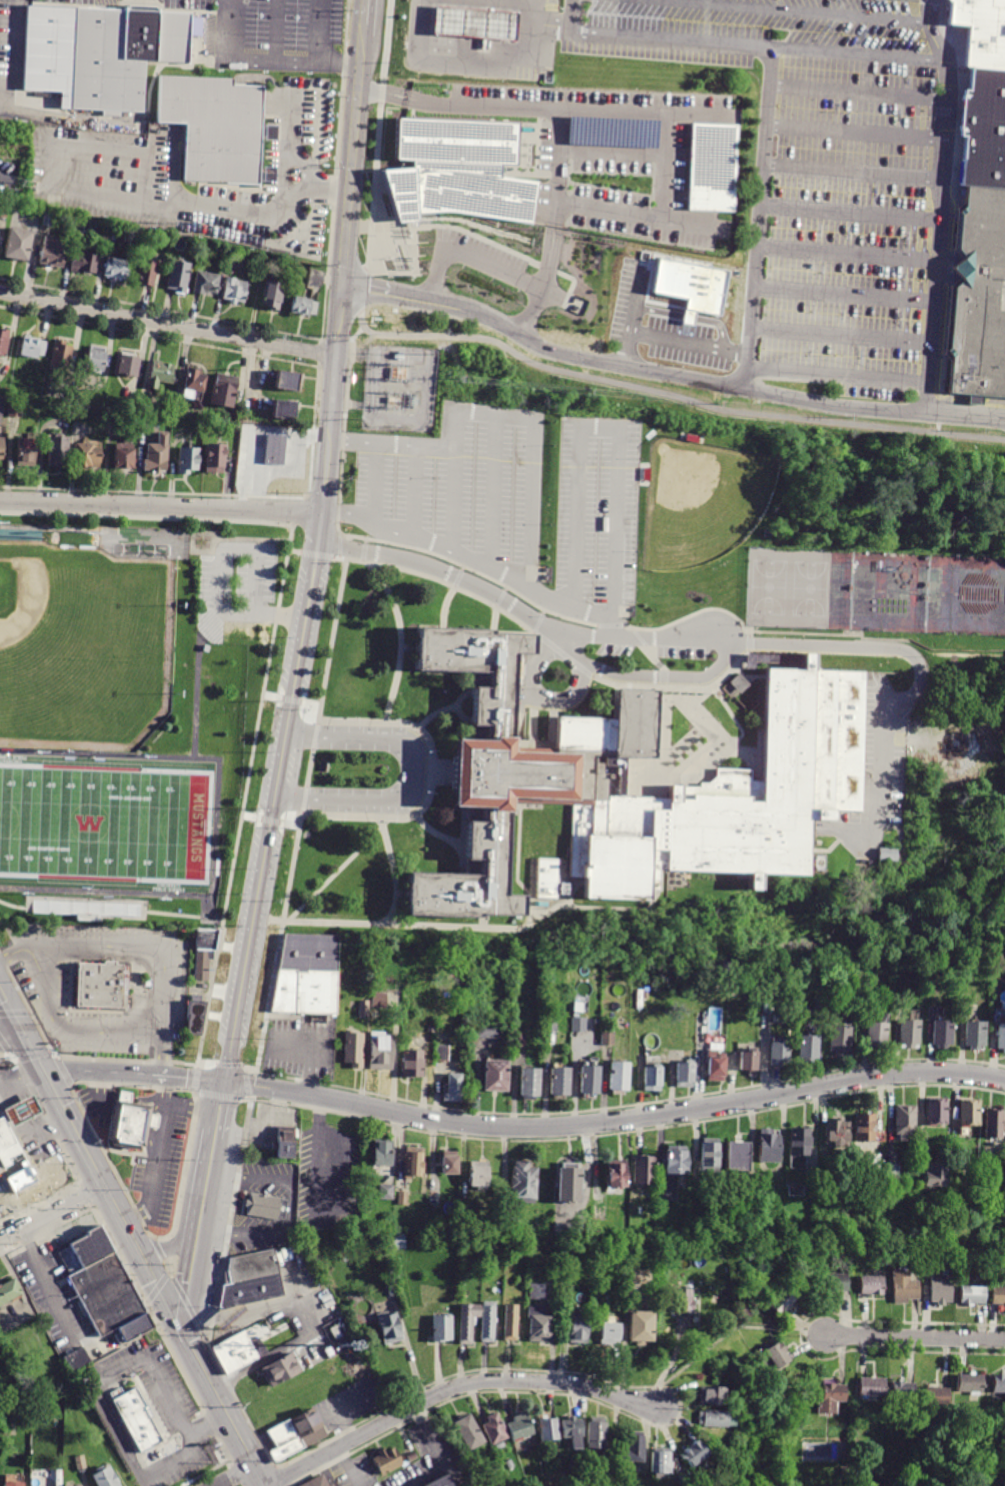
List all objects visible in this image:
road: (812, 9)
road: (364, 10)
building: (482, 21)
gas station: (482, 21)
road: (363, 27)
road: (275, 30)
road: (317, 31)
building: (981, 31)
road: (739, 42)
building: (100, 51)
road: (15, 57)
road: (267, 60)
road: (481, 60)
road: (857, 88)
road: (383, 93)
road: (483, 108)
road: (4, 110)
road: (645, 114)
road: (74, 119)
building: (220, 128)
building: (982, 128)
road: (854, 130)
building: (611, 131)
road: (293, 141)
road: (317, 141)
road: (613, 154)
road: (45, 156)
road: (351, 159)
road: (89, 165)
building: (711, 166)
road: (665, 167)
road: (170, 168)
road: (851, 169)
road: (126, 171)
road: (560, 171)
building: (462, 173)
parking lot: (814, 175)
road: (174, 201)
road: (938, 204)
building: (4, 210)
road: (847, 211)
road: (635, 214)
road: (755, 217)
building: (48, 221)
building: (99, 225)
building: (112, 233)
building: (20, 245)
building: (144, 247)
road: (845, 249)
building: (54, 252)
road: (473, 260)
building: (87, 263)
building: (118, 270)
building: (147, 273)
building: (317, 276)
flagpole: (399, 276)
flagpole: (407, 276)
building: (180, 277)
flagpole: (390, 277)
building: (207, 284)
road: (737, 284)
road: (546, 286)
road: (364, 290)
building: (236, 292)
road: (396, 293)
building: (977, 293)
building: (273, 296)
building: (306, 308)
road: (167, 325)
road: (781, 328)
building: (4, 342)
building: (33, 348)
building: (61, 357)
building: (97, 360)
building: (131, 368)
road: (835, 373)
building: (163, 375)
building: (290, 382)
road: (721, 386)
building: (195, 387)
power substation: (400, 391)
building: (226, 392)
road: (671, 395)
road: (332, 398)
road: (972, 399)
building: (16, 410)
building: (287, 411)
road: (505, 415)
building: (112, 422)
road: (603, 427)
road: (391, 445)
building: (2, 447)
building: (276, 450)
building: (59, 453)
building: (28, 454)
building: (87, 457)
building: (126, 457)
building: (158, 457)
building: (216, 460)
building: (189, 461)
road: (373, 482)
parking lot: (461, 487)
road: (491, 489)
road: (413, 490)
road: (161, 507)
parking lot: (597, 513)
park: (691, 514)
building: (23, 532)
road: (468, 555)
road: (444, 571)
road: (225, 577)
park: (769, 587)
park: (811, 589)
road: (446, 601)
road: (493, 612)
road: (544, 612)
road: (571, 618)
road: (539, 623)
road: (611, 626)
road: (613, 627)
road: (763, 632)
road: (751, 634)
road: (401, 642)
road: (750, 644)
stadium: (82, 645)
road: (569, 645)
road: (409, 648)
road: (840, 648)
park: (80, 649)
road: (564, 654)
road: (956, 654)
road: (652, 655)
road: (747, 676)
road: (664, 677)
road: (664, 678)
road: (198, 679)
road: (677, 688)
building: (733, 689)
flagpole: (720, 694)
road: (543, 700)
road: (436, 715)
road: (463, 715)
road: (733, 717)
road: (720, 736)
road: (750, 743)
road: (435, 772)
building: (541, 778)
road: (416, 779)
road: (678, 786)
road: (275, 797)
road: (526, 809)
park: (102, 823)
park: (106, 824)
road: (218, 825)
road: (426, 825)
road: (451, 842)
building: (888, 856)
road: (518, 869)
road: (335, 873)
building: (548, 879)
road: (400, 896)
road: (118, 901)
building: (88, 909)
road: (379, 926)
road: (492, 928)
road: (20, 948)
road: (144, 948)
building: (205, 953)
road: (137, 959)
building: (307, 975)
building: (104, 987)
building: (661, 992)
building: (648, 996)
building: (641, 999)
building: (381, 1001)
building: (821, 1006)
building: (364, 1009)
building: (580, 1009)
building: (946, 1012)
building: (375, 1014)
road: (10, 1015)
building: (828, 1015)
building: (195, 1016)
building: (781, 1019)
building: (550, 1025)
building: (580, 1025)
road: (68, 1028)
building: (432, 1030)
building: (489, 1031)
traffic signals: (21, 1034)
building: (879, 1034)
building: (943, 1035)
road: (10, 1036)
building: (910, 1036)
building: (976, 1036)
building: (1002, 1038)
building: (609, 1040)
building: (842, 1041)
building: (521, 1042)
building: (810, 1048)
building: (355, 1051)
road: (31, 1052)
building: (382, 1052)
building: (780, 1053)
road: (163, 1054)
building: (443, 1054)
road: (206, 1064)
building: (749, 1064)
building: (416, 1065)
road: (229, 1066)
road: (199, 1067)
traffic signals: (41, 1070)
building: (718, 1070)
road: (248, 1071)
road: (97, 1073)
road: (20, 1076)
building: (686, 1076)
building: (497, 1078)
road: (189, 1079)
building: (620, 1079)
road: (197, 1080)
building: (653, 1081)
traffic signals: (225, 1082)
building: (562, 1083)
building: (591, 1083)
road: (249, 1085)
building: (532, 1085)
building: (454, 1090)
road: (96, 1091)
road: (153, 1096)
road: (219, 1096)
road: (251, 1099)
road: (193, 1104)
road: (624, 1106)
road: (25, 1107)
road: (220, 1107)
building: (20, 1109)
gas station: (20, 1109)
building: (936, 1111)
building: (967, 1112)
road: (615, 1120)
building: (905, 1120)
building: (131, 1123)
building: (993, 1124)
building: (864, 1127)
road: (624, 1133)
building: (837, 1133)
road: (43, 1141)
building: (283, 1142)
building: (7, 1144)
building: (768, 1146)
building: (799, 1147)
building: (383, 1153)
building: (955, 1153)
building: (709, 1154)
building: (736, 1155)
road: (157, 1156)
building: (873, 1161)
building: (413, 1162)
building: (448, 1162)
building: (675, 1162)
building: (890, 1169)
building: (644, 1170)
building: (615, 1172)
building: (478, 1174)
building: (934, 1175)
building: (523, 1183)
road: (205, 1185)
building: (569, 1185)
building: (386, 1192)
road: (106, 1194)
building: (402, 1198)
building: (434, 1198)
road: (10, 1206)
building: (266, 1207)
road: (290, 1209)
road: (50, 1213)
building: (509, 1224)
building: (567, 1229)
building: (495, 1241)
building: (396, 1242)
road: (164, 1246)
building: (750, 1256)
building: (638, 1275)
building: (568, 1277)
road: (189, 1279)
building: (252, 1279)
building: (835, 1281)
road: (49, 1285)
building: (872, 1285)
building: (107, 1286)
building: (904, 1287)
building: (8, 1290)
building: (390, 1290)
building: (536, 1291)
building: (938, 1293)
building: (971, 1295)
building: (998, 1295)
building: (783, 1300)
building: (683, 1302)
traffic signals: (175, 1318)
building: (488, 1321)
building: (468, 1322)
building: (510, 1322)
building: (538, 1324)
building: (578, 1325)
building: (389, 1327)
building: (443, 1328)
building: (641, 1328)
building: (335, 1332)
building: (609, 1333)
road: (310, 1335)
road: (727, 1335)
road: (802, 1335)
road: (915, 1337)
building: (236, 1348)
building: (328, 1352)
building: (772, 1355)
building: (77, 1359)
building: (281, 1369)
building: (969, 1383)
building: (998, 1384)
road: (455, 1387)
building: (871, 1387)
building: (902, 1390)
building: (709, 1395)
building: (937, 1396)
building: (830, 1398)
road: (102, 1399)
road: (219, 1402)
building: (790, 1409)
building: (714, 1419)
building: (137, 1421)
road: (207, 1426)
building: (520, 1427)
building: (293, 1429)
building: (495, 1429)
building: (549, 1429)
building: (573, 1431)
building: (467, 1432)
building: (596, 1433)
road: (437, 1446)
building: (634, 1447)
building: (692, 1453)
building: (411, 1456)
building: (386, 1460)
building: (79, 1462)
building: (661, 1462)
road: (348, 1467)
building: (843, 1471)
road: (422, 1474)
road: (235, 1476)
building: (105, 1478)
building: (433, 1479)
building: (314, 1480)
building: (683, 1480)
building: (12, 1484)
building: (67, 1485)

